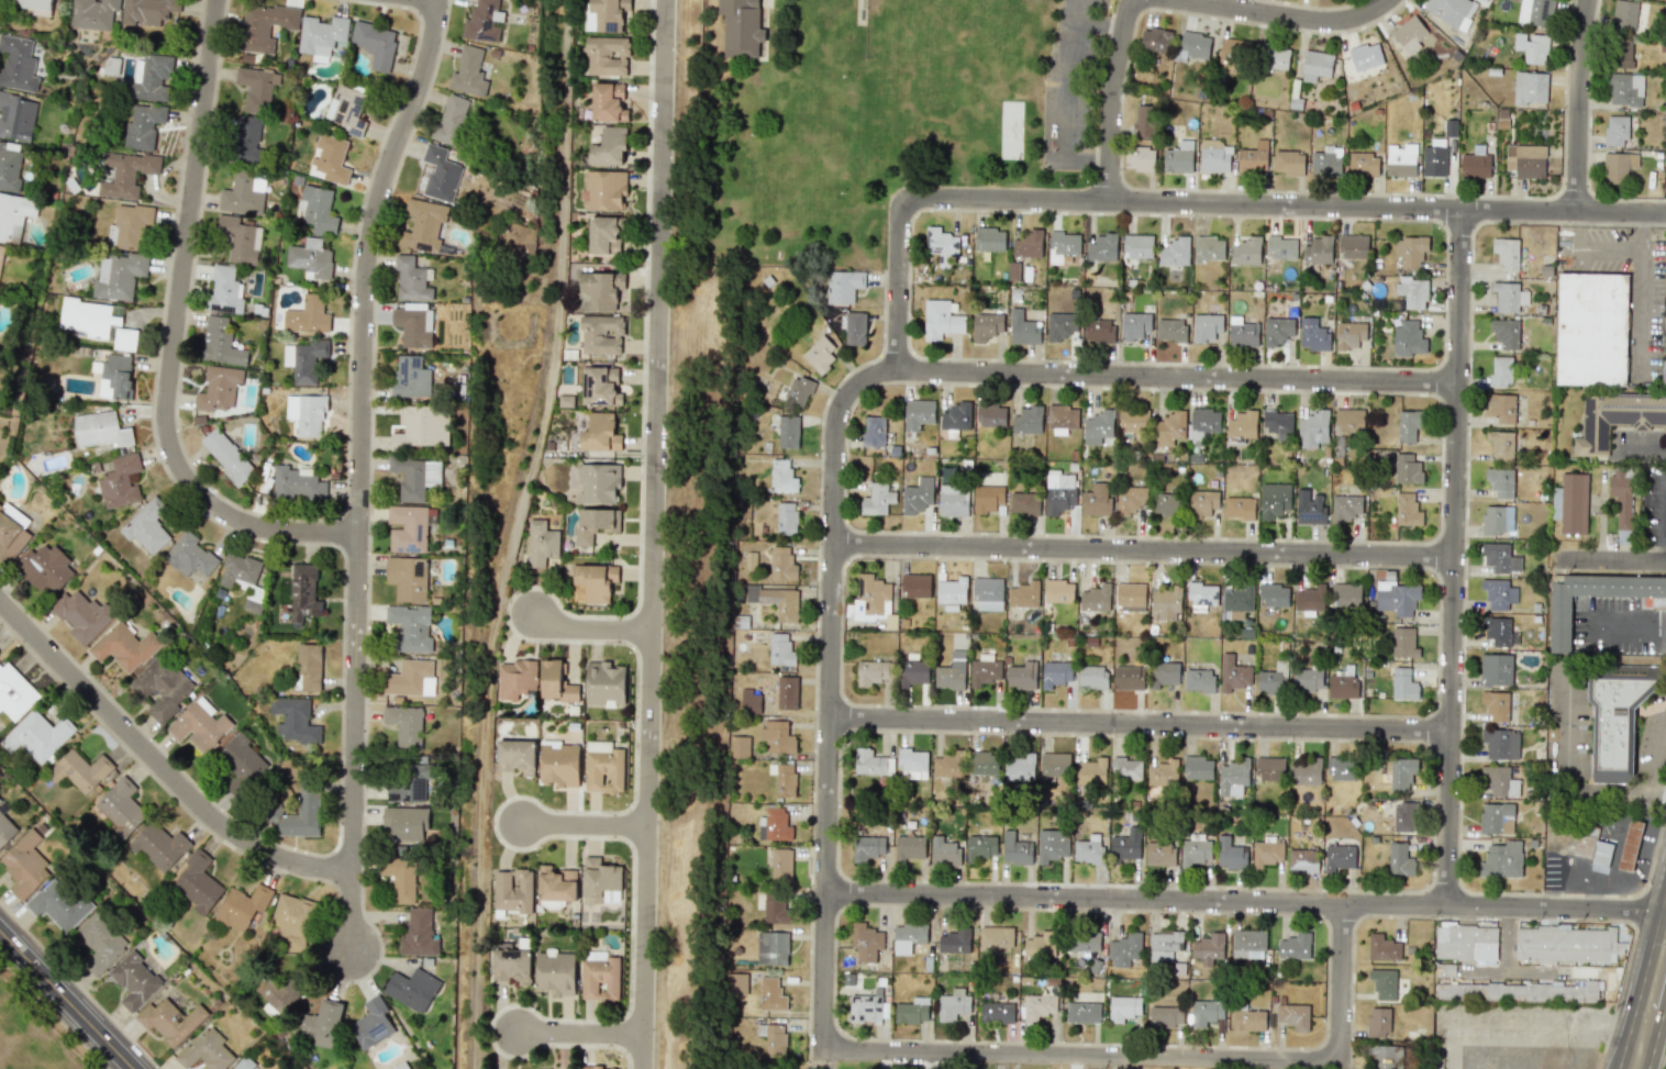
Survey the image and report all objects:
building: (33, 3)
building: (147, 11)
building: (1451, 11)
building: (1535, 12)
building: (93, 13)
building: (609, 13)
building: (1625, 13)
road: (1285, 15)
building: (482, 21)
building: (264, 25)
building: (741, 26)
building: (1409, 34)
building: (321, 36)
building: (1155, 40)
building: (375, 43)
building: (1192, 46)
building: (1531, 47)
building: (1622, 53)
building: (1232, 55)
building: (607, 56)
building: (1365, 56)
building: (1274, 58)
building: (18, 63)
building: (1315, 65)
building: (468, 73)
building: (149, 78)
road: (1067, 79)
parking lot: (1070, 87)
building: (256, 88)
building: (1530, 88)
building: (1625, 89)
road: (1110, 100)
building: (609, 102)
road: (1579, 104)
building: (346, 110)
building: (16, 116)
park: (858, 118)
building: (1142, 120)
building: (451, 121)
building: (144, 125)
building: (1615, 131)
building: (246, 138)
building: (609, 146)
building: (1214, 156)
building: (1140, 157)
building: (1178, 157)
building: (1253, 157)
building: (331, 158)
building: (1434, 158)
building: (1400, 159)
road: (1087, 160)
building: (1525, 160)
building: (1326, 162)
building: (1289, 163)
building: (1475, 163)
building: (1363, 165)
building: (1618, 165)
building: (9, 167)
building: (126, 174)
building: (440, 174)
road: (1450, 175)
building: (603, 190)
building: (241, 194)
road: (1285, 207)
building: (316, 209)
building: (14, 215)
building: (130, 225)
building: (422, 225)
building: (603, 235)
building: (240, 238)
building: (989, 238)
building: (1028, 244)
building: (942, 245)
building: (1063, 245)
building: (1137, 246)
building: (1353, 246)
road: (1593, 246)
building: (1102, 247)
building: (1209, 248)
building: (1281, 248)
building: (1318, 250)
building: (1410, 250)
building: (1175, 252)
building: (1246, 252)
building: (1, 253)
building: (1506, 253)
building: (310, 258)
building: (119, 275)
building: (411, 280)
building: (843, 286)
road: (902, 286)
building: (603, 289)
road: (1642, 290)
building: (224, 291)
building: (1412, 292)
building: (1508, 297)
building: (307, 315)
building: (941, 320)
building: (97, 322)
building: (413, 324)
building: (1062, 325)
building: (1134, 325)
building: (986, 326)
building: (1206, 327)
building: (855, 329)
building: (1022, 329)
building: (1592, 329)
building: (1170, 330)
building: (1098, 331)
building: (1277, 331)
building: (1242, 333)
building: (1504, 333)
building: (601, 334)
building: (1312, 334)
building: (1350, 334)
road: (175, 335)
building: (1408, 338)
building: (220, 343)
building: (820, 355)
building: (303, 360)
building: (1500, 370)
building: (1664, 374)
building: (115, 376)
building: (411, 377)
road: (1180, 377)
building: (602, 386)
building: (219, 388)
building: (798, 392)
building: (565, 400)
building: (1501, 409)
building: (918, 413)
building: (306, 414)
building: (990, 415)
building: (955, 417)
building: (1062, 419)
building: (1615, 419)
building: (1028, 420)
building: (1133, 423)
building: (1203, 424)
building: (1279, 424)
building: (422, 426)
building: (1241, 426)
building: (1408, 426)
building: (1098, 427)
building: (1169, 427)
building: (100, 430)
building: (1313, 430)
building: (873, 431)
building: (788, 432)
building: (600, 433)
building: (1501, 445)
road: (1644, 447)
building: (226, 456)
road: (362, 469)
building: (1407, 469)
building: (415, 476)
building: (781, 476)
building: (1500, 481)
building: (120, 482)
building: (598, 482)
building: (296, 483)
building: (1058, 491)
building: (918, 495)
building: (1621, 495)
building: (987, 498)
building: (877, 499)
building: (1130, 499)
building: (1274, 499)
building: (953, 500)
building: (1097, 500)
building: (1024, 502)
building: (1202, 503)
building: (1570, 503)
building: (1166, 504)
building: (1239, 508)
building: (1309, 508)
building: (1345, 508)
building: (1407, 510)
building: (786, 517)
building: (1497, 519)
building: (595, 524)
building: (146, 526)
building: (408, 528)
building: (11, 532)
railway: (501, 533)
road: (512, 533)
road: (651, 534)
building: (541, 543)
road: (1146, 550)
building: (189, 555)
road: (1456, 557)
building: (1500, 558)
road: (1608, 559)
building: (782, 564)
building: (45, 568)
building: (242, 578)
building: (407, 578)
building: (597, 581)
building: (915, 586)
building: (1058, 591)
building: (952, 592)
building: (303, 593)
building: (987, 593)
building: (1498, 593)
building: (1023, 594)
building: (1273, 594)
building: (1345, 594)
building: (1130, 597)
building: (1201, 597)
building: (1397, 597)
building: (1095, 598)
building: (1239, 599)
building: (1310, 599)
building: (776, 601)
building: (1166, 603)
building: (81, 615)
road: (1615, 619)
road: (1658, 620)
building: (742, 621)
building: (1559, 623)
building: (411, 627)
road: (587, 628)
building: (1497, 631)
building: (1403, 643)
building: (124, 646)
building: (780, 649)
building: (308, 667)
building: (1496, 669)
building: (871, 672)
building: (913, 672)
building: (951, 672)
building: (984, 672)
building: (1055, 673)
building: (1163, 673)
building: (1233, 673)
building: (1021, 676)
building: (1091, 677)
building: (1128, 677)
building: (410, 678)
building: (515, 678)
building: (1273, 678)
building: (1308, 679)
building: (1199, 680)
building: (557, 681)
building: (604, 683)
building: (1403, 684)
building: (162, 687)
building: (1343, 687)
road: (832, 691)
building: (787, 692)
building: (14, 693)
building: (749, 702)
building: (1496, 705)
building: (295, 720)
road: (1143, 723)
building: (404, 724)
building: (1615, 724)
building: (200, 725)
building: (40, 736)
building: (777, 736)
building: (1500, 744)
building: (738, 746)
building: (517, 756)
road: (1657, 756)
building: (242, 759)
building: (871, 762)
building: (985, 762)
building: (559, 764)
building: (912, 764)
road: (1571, 764)
road: (159, 765)
building: (947, 765)
building: (1054, 766)
building: (603, 767)
building: (1198, 767)
building: (1020, 768)
building: (1342, 768)
building: (1126, 769)
building: (1270, 769)
building: (80, 770)
building: (1090, 772)
building: (1163, 773)
building: (1304, 773)
building: (1401, 773)
building: (1233, 778)
building: (782, 779)
building: (1499, 781)
building: (410, 784)
road: (1657, 787)
building: (0, 801)
building: (120, 806)
building: (298, 815)
building: (1403, 816)
building: (1496, 819)
building: (406, 823)
road: (581, 825)
building: (774, 825)
building: (5, 829)
building: (1052, 845)
building: (1630, 845)
building: (159, 846)
building: (981, 846)
building: (867, 847)
building: (909, 847)
building: (1124, 847)
building: (1015, 849)
building: (1088, 849)
building: (1197, 849)
building: (1593, 849)
building: (944, 851)
building: (1159, 853)
building: (1266, 853)
building: (1230, 854)
building: (1339, 857)
building: (1399, 859)
building: (1501, 859)
building: (1302, 860)
building: (25, 865)
building: (781, 865)
building: (400, 878)
building: (601, 881)
building: (197, 882)
building: (556, 883)
building: (512, 890)
road: (1246, 901)
building: (58, 904)
building: (242, 906)
building: (776, 910)
building: (292, 916)
building: (418, 933)
building: (996, 936)
building: (908, 937)
building: (955, 940)
building: (1082, 940)
building: (865, 942)
building: (100, 943)
building: (1466, 943)
building: (1248, 944)
building: (1564, 944)
building: (1041, 945)
building: (1164, 945)
building: (1295, 946)
building: (771, 948)
building: (1208, 948)
building: (1385, 948)
building: (1125, 950)
road: (1506, 958)
building: (511, 965)
road: (1532, 969)
building: (1444, 970)
building: (555, 972)
building: (599, 976)
road: (1642, 978)
building: (135, 979)
road: (1343, 982)
building: (737, 983)
building: (1384, 984)
building: (412, 989)
building: (1518, 991)
building: (278, 992)
building: (771, 994)
road: (67, 999)
building: (953, 1004)
building: (1037, 1005)
building: (1123, 1007)
building: (865, 1009)
building: (912, 1011)
building: (1082, 1012)
building: (1206, 1012)
building: (997, 1013)
building: (1293, 1015)
building: (1166, 1016)
building: (1248, 1020)
building: (169, 1021)
building: (1378, 1021)
building: (321, 1023)
building: (371, 1024)
road: (1656, 1029)
road: (578, 1034)
park: (27, 1036)
building: (773, 1040)
building: (206, 1050)
building: (1380, 1056)
road: (1082, 1057)
building: (244, 1064)
building: (589, 1067)

